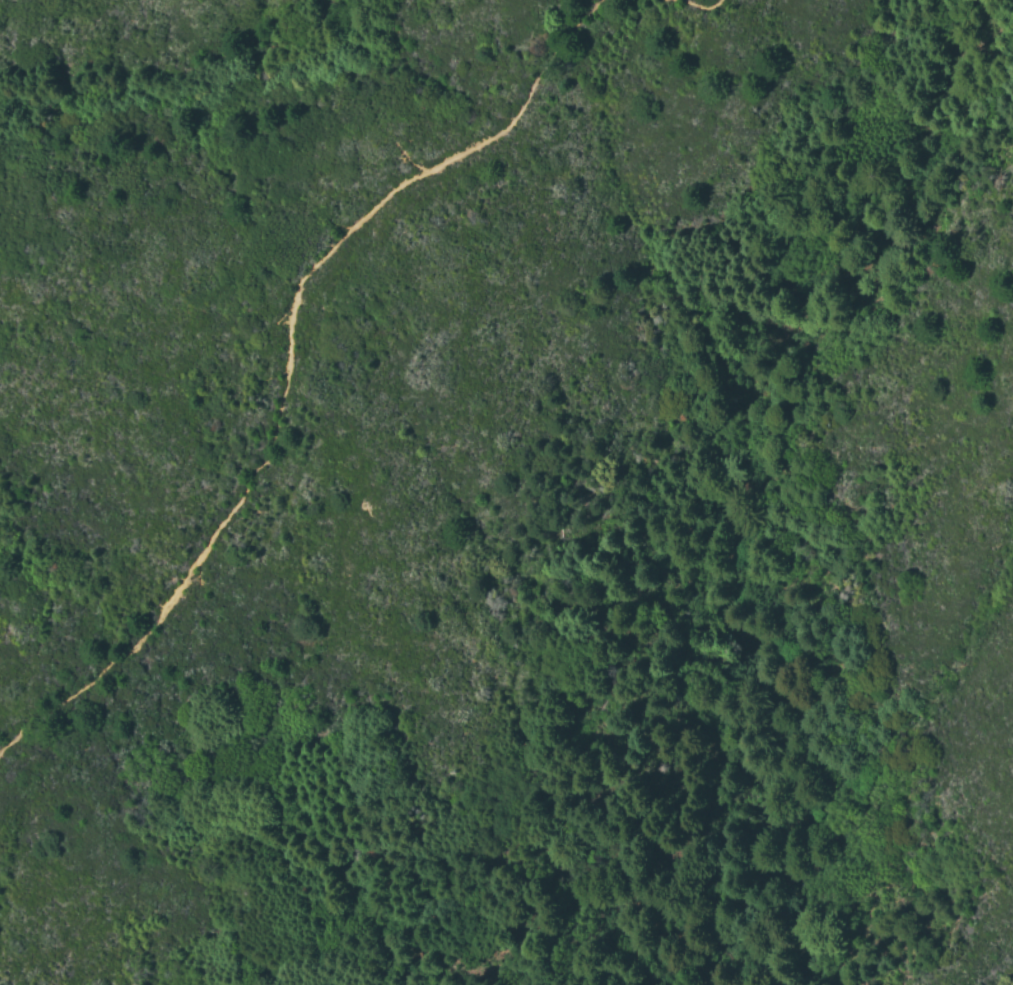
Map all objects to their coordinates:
road: (697, 4)
road: (291, 361)

